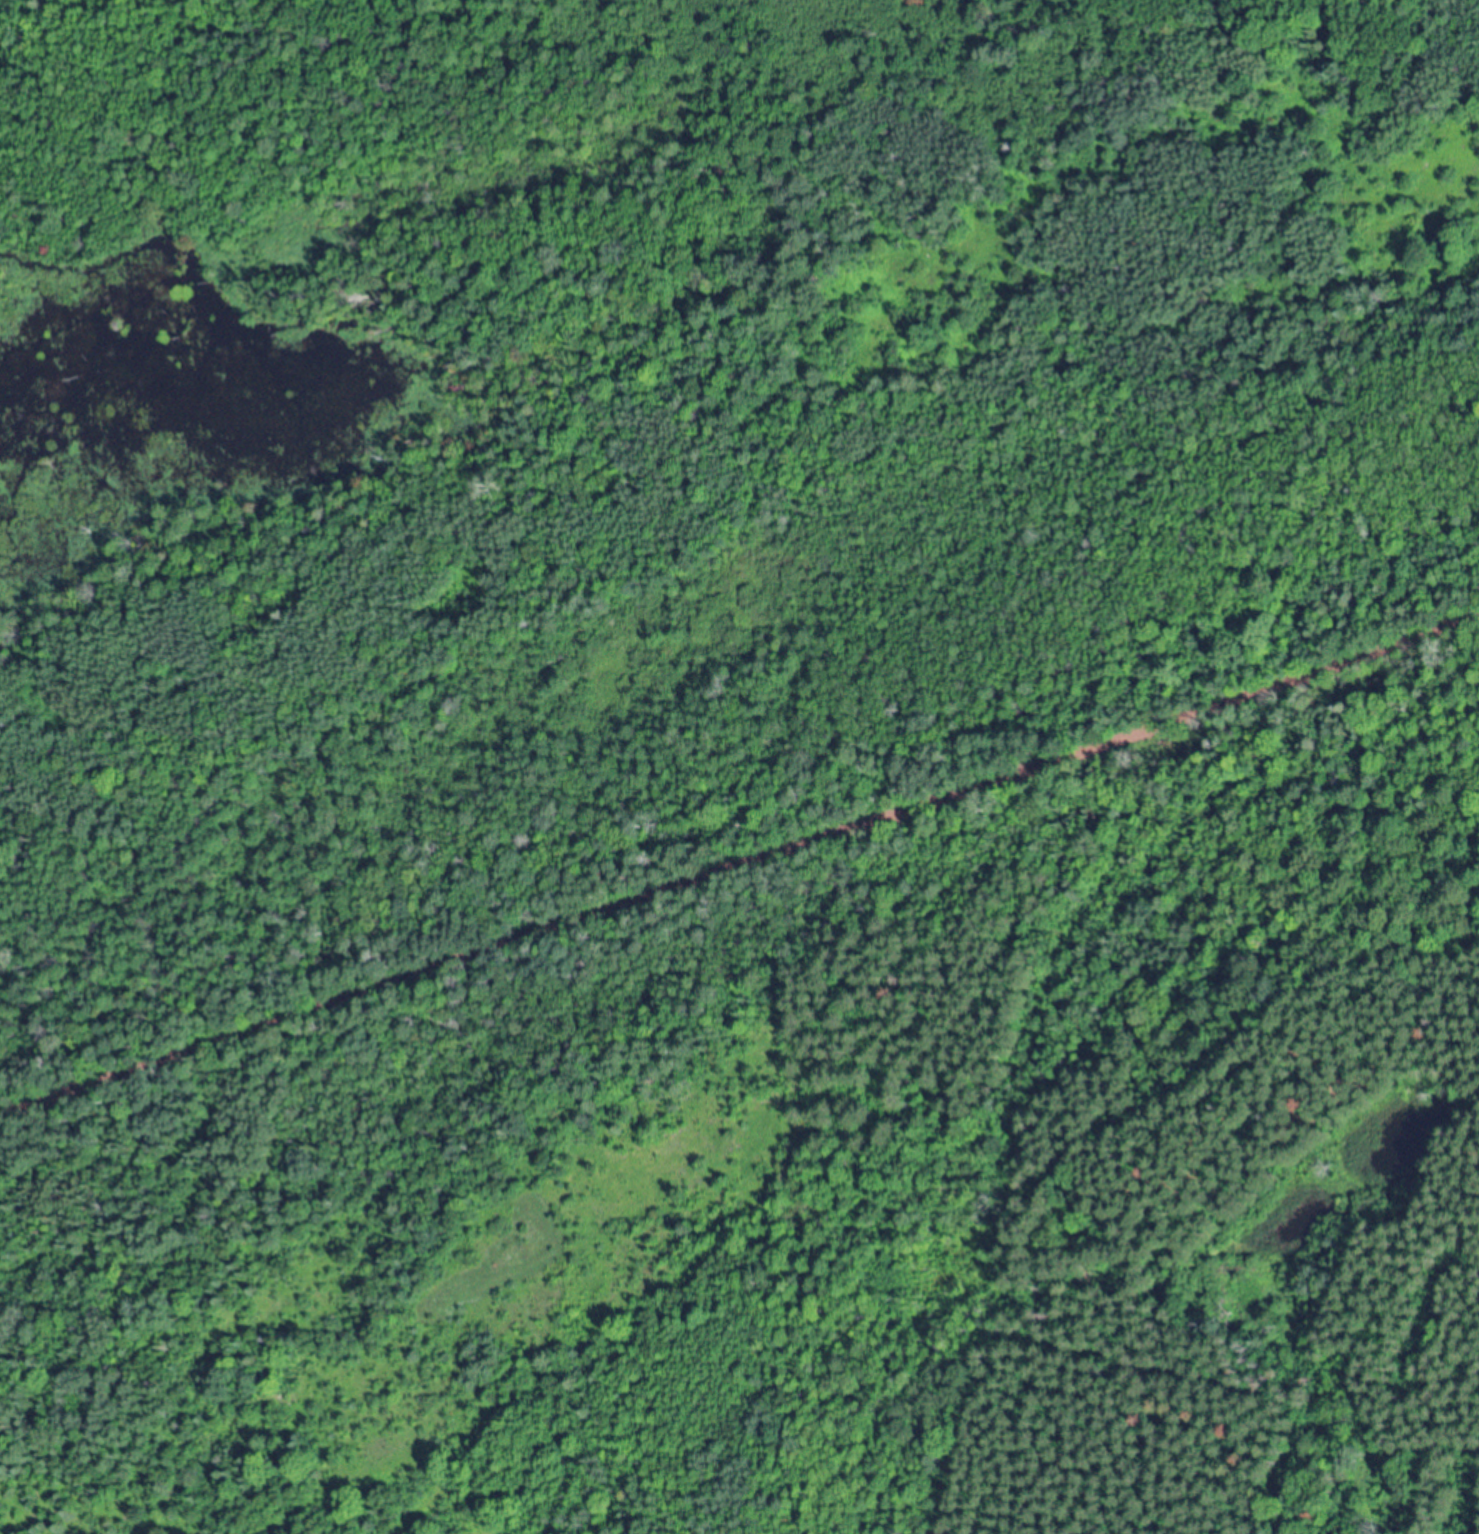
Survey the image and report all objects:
road: (739, 864)

